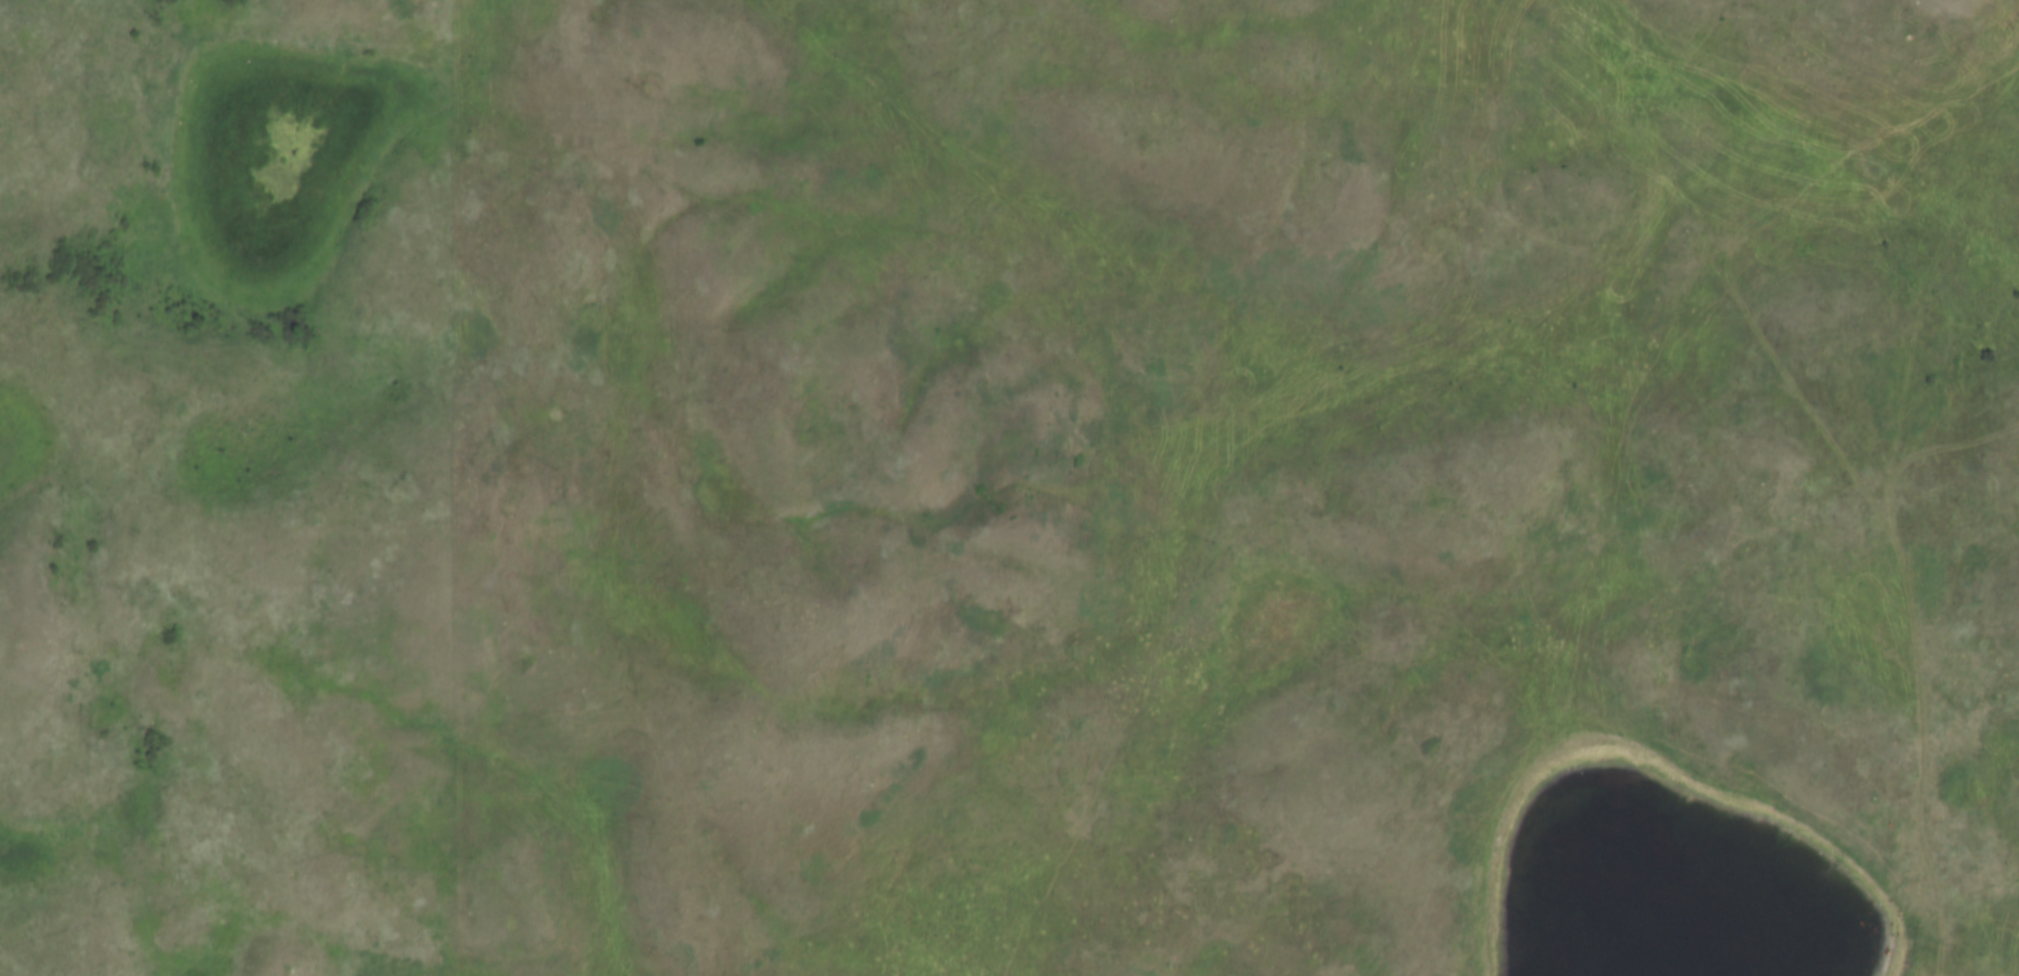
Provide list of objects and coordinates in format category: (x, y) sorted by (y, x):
road: (1914, 656)

